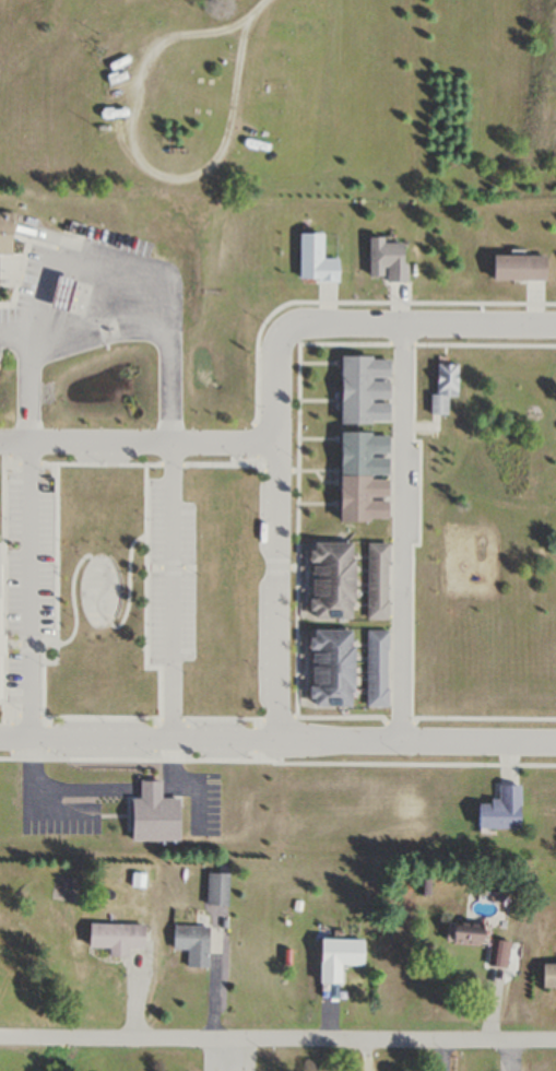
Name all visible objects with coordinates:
building: (163, 59)
quarry: (276, 98)
building: (8, 236)
building: (4, 293)
road: (430, 325)
road: (110, 338)
building: (443, 390)
road: (138, 440)
road: (276, 523)
road: (402, 531)
building: (330, 581)
building: (376, 582)
building: (1, 627)
building: (330, 670)
building: (376, 670)
road: (277, 737)
building: (216, 891)
building: (464, 935)
building: (115, 939)
building: (189, 939)
building: (498, 954)
building: (338, 960)
building: (548, 976)
road: (277, 1038)

